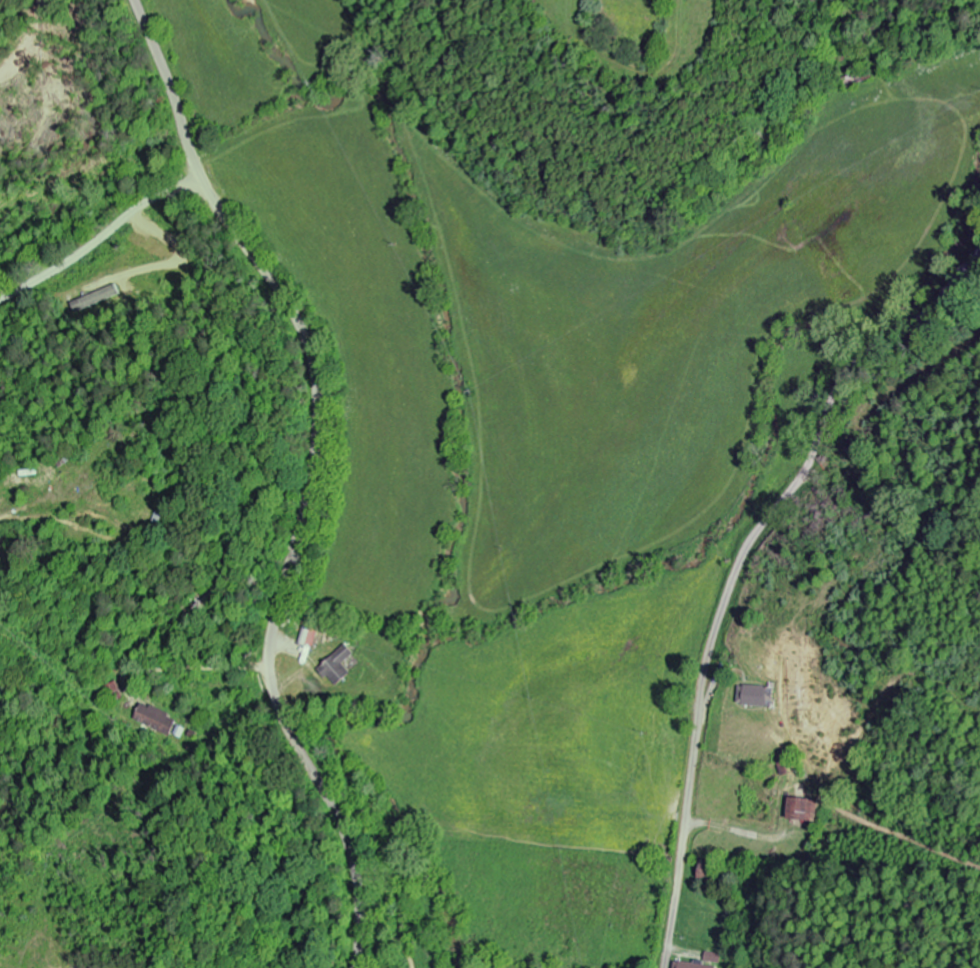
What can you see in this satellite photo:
building: (96, 304)
road: (312, 473)
road: (736, 569)
building: (311, 637)
building: (341, 667)
building: (758, 696)
building: (159, 721)
building: (801, 810)
building: (688, 965)

